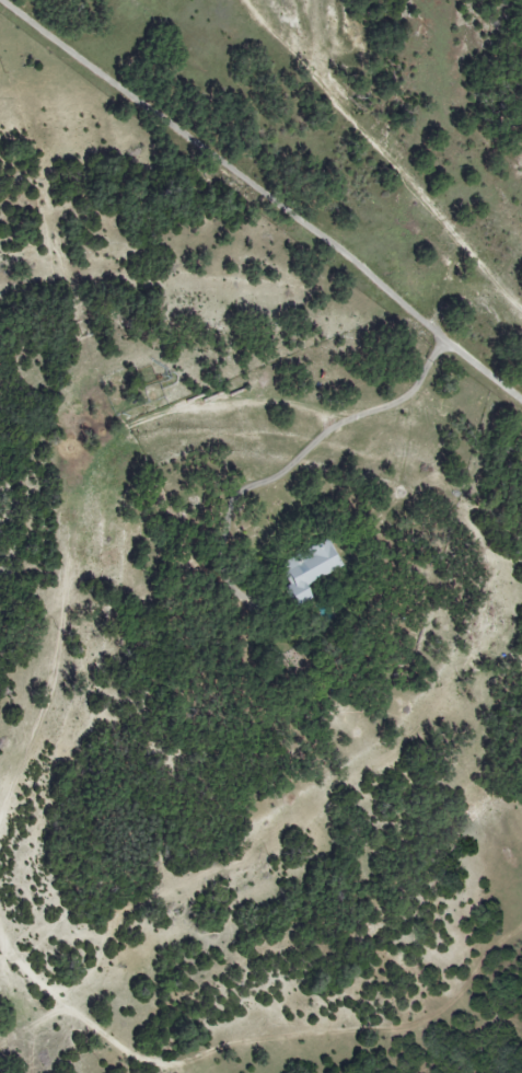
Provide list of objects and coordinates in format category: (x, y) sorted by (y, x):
road: (270, 197)
building: (309, 569)

